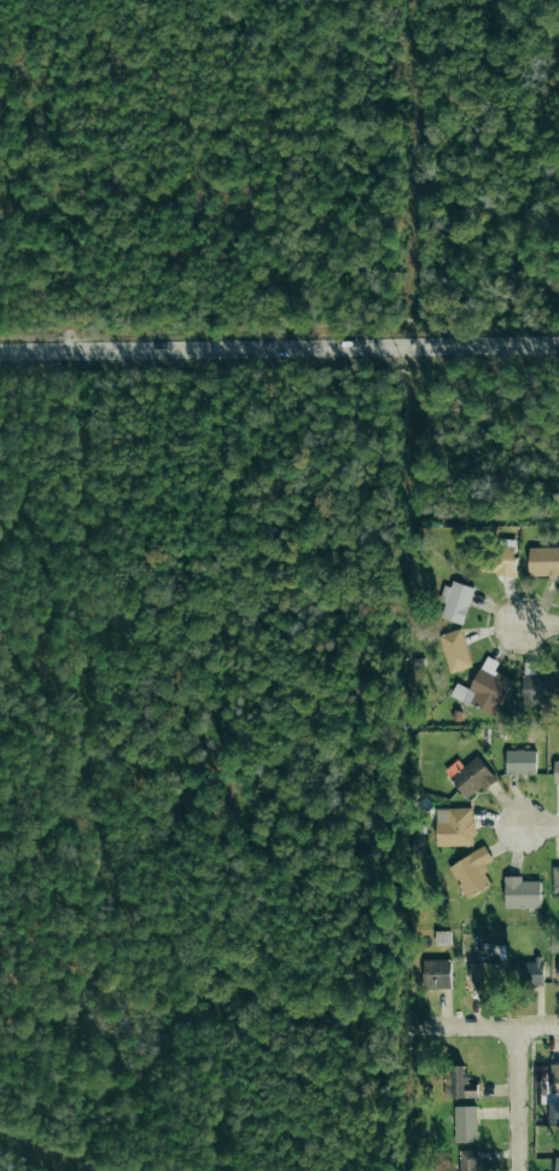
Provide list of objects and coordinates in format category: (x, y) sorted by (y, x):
road: (279, 352)
building: (543, 561)
building: (454, 601)
road: (540, 628)
building: (454, 650)
building: (537, 684)
building: (484, 688)
building: (520, 763)
building: (557, 771)
building: (470, 776)
building: (454, 825)
road: (542, 827)
building: (472, 871)
building: (555, 877)
building: (522, 892)
building: (558, 969)
building: (530, 972)
building: (435, 973)
building: (484, 974)
road: (465, 1030)
building: (554, 1078)
building: (458, 1083)
road: (520, 1100)
building: (464, 1124)
building: (468, 1160)
building: (557, 1164)

